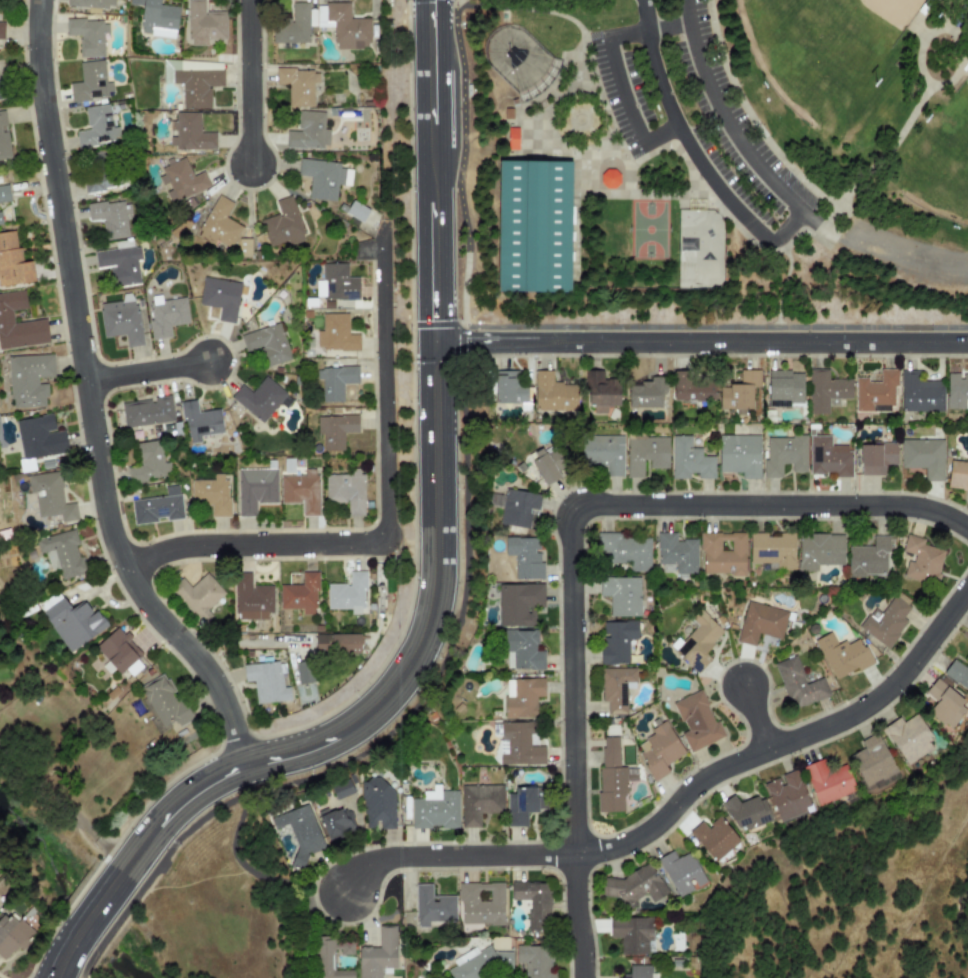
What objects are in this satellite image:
building: (90, 3)
traffic signals: (432, 3)
road: (524, 10)
road: (947, 13)
building: (156, 18)
building: (203, 23)
building: (292, 25)
building: (344, 26)
road: (660, 28)
building: (1, 30)
building: (87, 35)
road: (921, 42)
park: (818, 46)
park: (517, 57)
building: (193, 80)
road: (253, 80)
building: (90, 81)
road: (661, 84)
building: (297, 85)
building: (1, 89)
road: (751, 114)
parking lot: (696, 116)
fountain: (578, 119)
road: (728, 119)
road: (913, 119)
building: (96, 126)
building: (308, 131)
building: (189, 133)
building: (3, 137)
building: (511, 138)
park: (939, 159)
road: (464, 164)
park: (713, 165)
road: (433, 170)
building: (96, 173)
building: (323, 177)
building: (609, 179)
building: (181, 183)
building: (4, 193)
building: (355, 211)
building: (111, 218)
building: (0, 219)
building: (282, 224)
building: (219, 225)
park: (532, 226)
building: (533, 226)
park: (648, 230)
road: (740, 231)
road: (816, 237)
building: (243, 247)
road: (885, 250)
building: (12, 261)
building: (119, 262)
building: (336, 283)
road: (784, 287)
building: (220, 297)
building: (165, 315)
traffic signals: (434, 317)
building: (121, 319)
building: (18, 323)
road: (716, 328)
building: (335, 333)
traffic signals: (468, 342)
road: (701, 342)
building: (267, 343)
traffic signals: (434, 362)
road: (150, 374)
building: (28, 379)
building: (335, 381)
building: (509, 388)
building: (690, 388)
building: (783, 388)
building: (825, 390)
building: (956, 390)
building: (600, 391)
building: (738, 391)
building: (874, 391)
building: (553, 393)
building: (647, 393)
building: (919, 393)
building: (260, 399)
road: (93, 402)
building: (146, 411)
building: (199, 421)
building: (335, 430)
building: (39, 437)
building: (602, 453)
building: (645, 454)
building: (738, 454)
building: (783, 454)
building: (827, 456)
building: (876, 457)
building: (923, 457)
building: (689, 459)
building: (147, 462)
building: (544, 466)
building: (957, 474)
building: (254, 489)
building: (346, 490)
building: (300, 491)
building: (211, 494)
building: (49, 496)
building: (514, 506)
building: (157, 507)
road: (389, 521)
road: (568, 540)
building: (622, 550)
building: (771, 550)
building: (818, 551)
building: (676, 552)
building: (60, 553)
building: (722, 553)
building: (522, 556)
building: (867, 558)
building: (921, 559)
building: (300, 594)
building: (347, 594)
building: (620, 595)
building: (197, 596)
building: (250, 598)
building: (518, 603)
building: (73, 622)
building: (760, 622)
building: (885, 622)
building: (616, 641)
building: (696, 641)
building: (337, 643)
building: (521, 650)
building: (119, 652)
building: (842, 654)
street lamp: (735, 658)
building: (966, 659)
building: (303, 672)
building: (956, 673)
building: (265, 681)
building: (798, 684)
road: (397, 685)
building: (616, 687)
building: (521, 696)
building: (163, 701)
building: (944, 704)
road: (755, 718)
building: (696, 721)
building: (908, 738)
building: (517, 745)
building: (658, 749)
building: (871, 760)
building: (610, 776)
building: (827, 781)
building: (341, 789)
road: (965, 789)
building: (787, 796)
road: (679, 799)
building: (479, 802)
road: (66, 804)
building: (376, 804)
building: (521, 804)
building: (435, 809)
building: (746, 813)
building: (335, 823)
building: (299, 830)
building: (714, 839)
road: (177, 842)
road: (247, 866)
building: (681, 872)
building: (633, 886)
building: (533, 902)
building: (480, 903)
road: (99, 906)
building: (431, 907)
road: (301, 919)
road: (108, 933)
building: (631, 934)
building: (11, 936)
road: (67, 953)
building: (378, 954)
building: (331, 956)
building: (534, 960)
building: (478, 963)
road: (85, 968)
building: (639, 971)
road: (85, 976)

